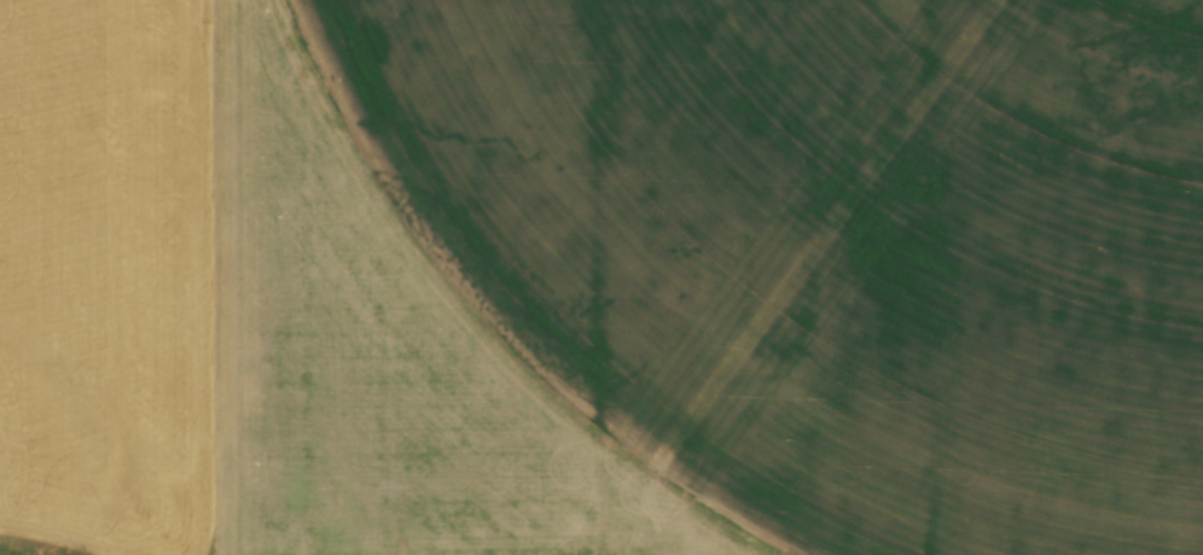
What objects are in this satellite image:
crop: (601, 277)

